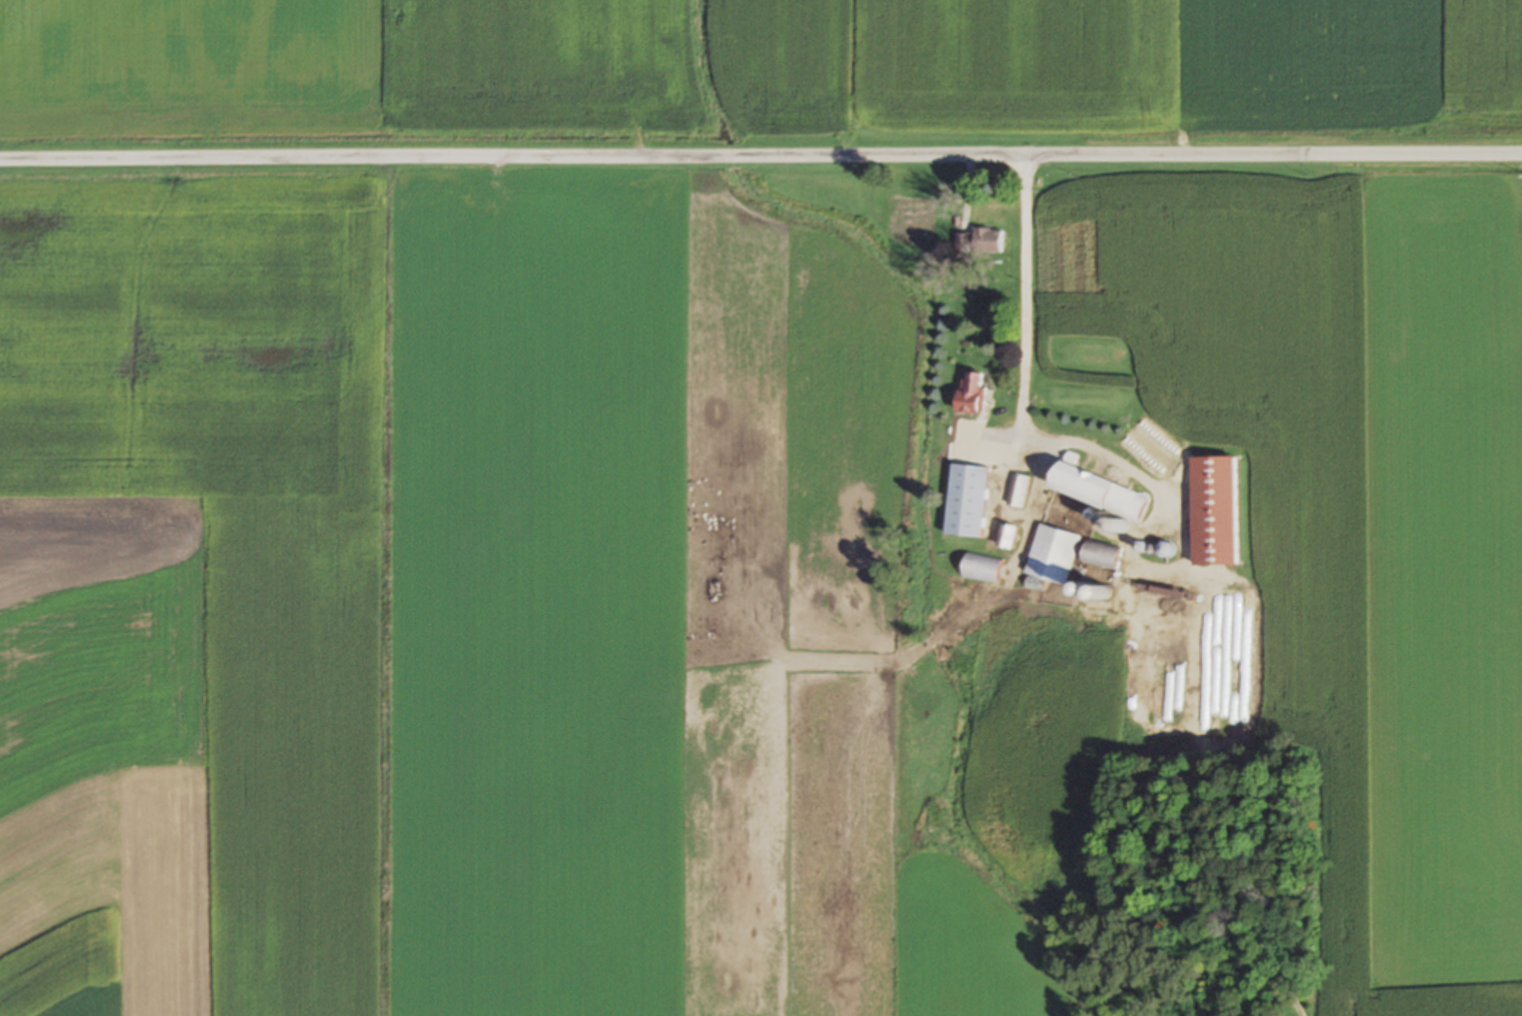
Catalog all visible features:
road: (761, 155)
building: (978, 243)
road: (1025, 306)
building: (972, 393)
building: (963, 436)
building: (1018, 492)
building: (1100, 493)
building: (968, 501)
building: (1214, 512)
building: (1007, 537)
building: (1165, 551)
building: (1053, 556)
building: (1101, 556)
building: (982, 568)

